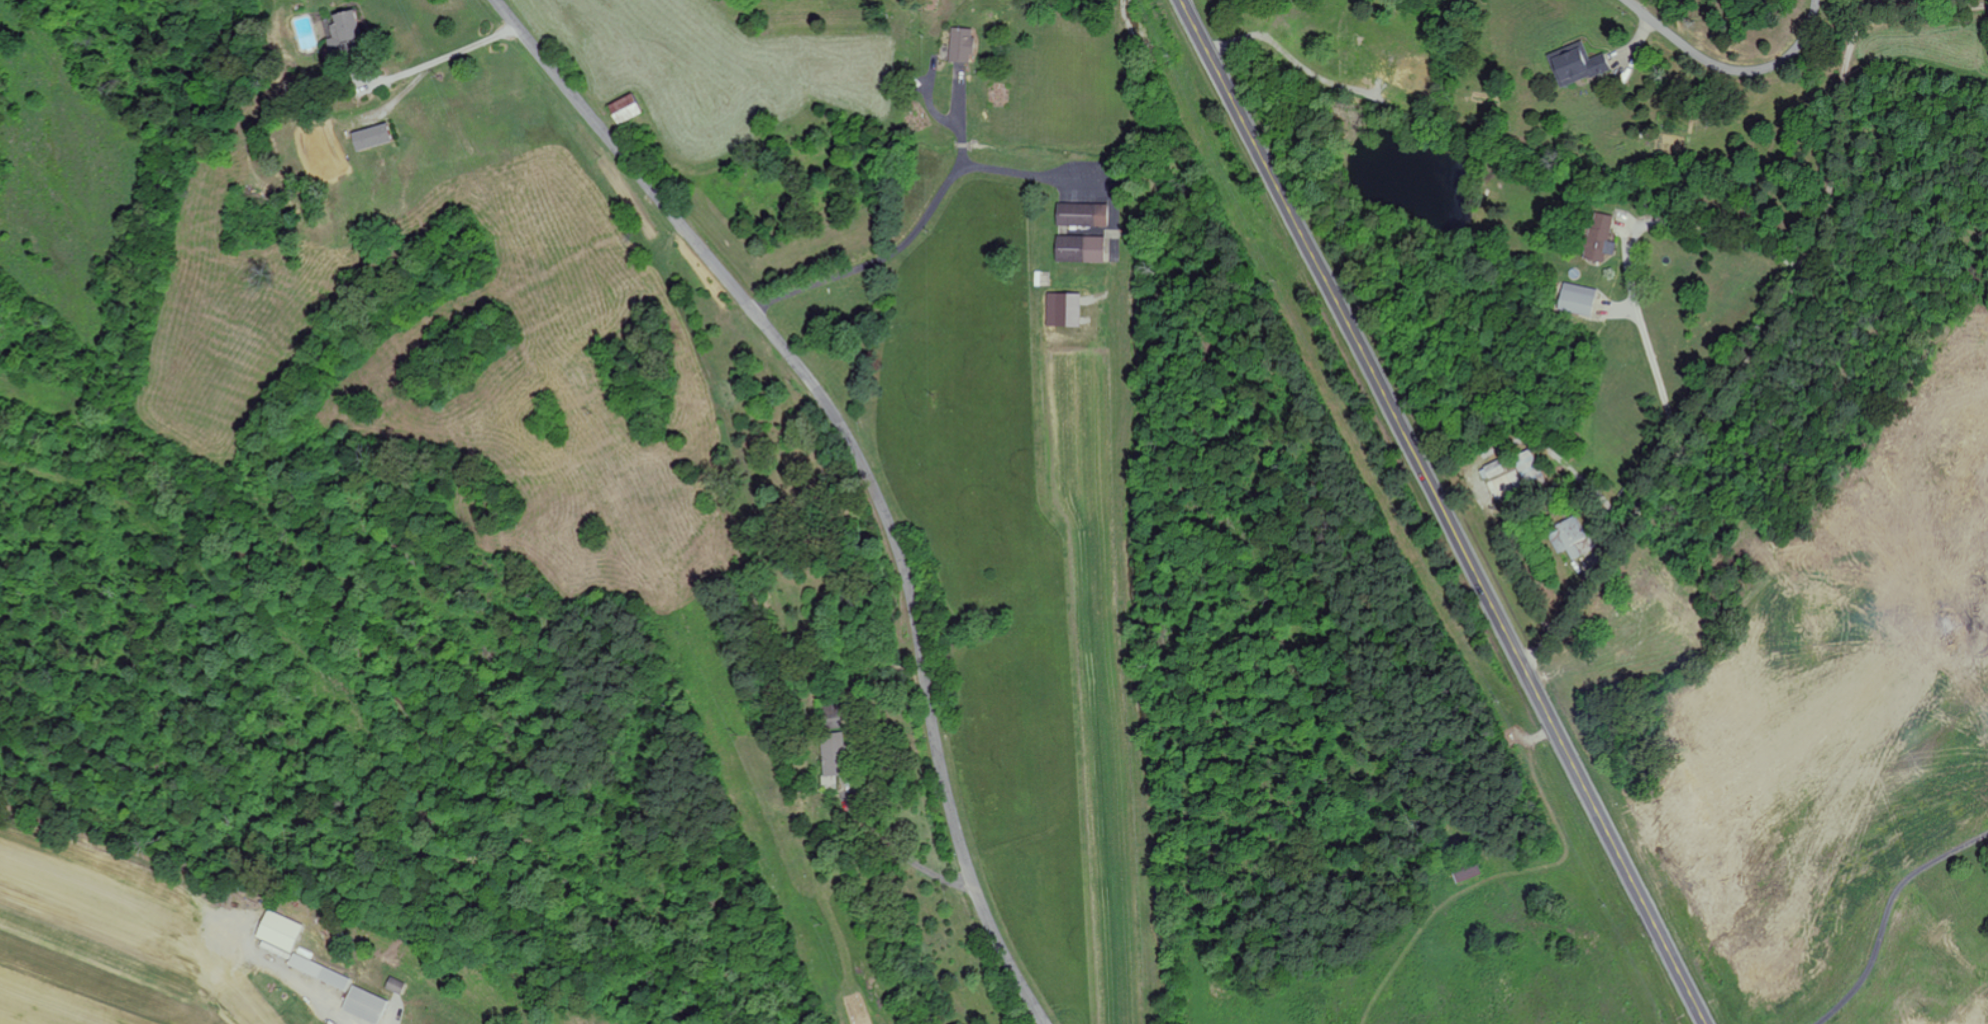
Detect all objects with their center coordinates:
building: (346, 34)
building: (960, 45)
road: (1726, 64)
building: (1576, 66)
building: (621, 109)
building: (367, 135)
building: (1081, 214)
building: (1598, 236)
building: (1078, 248)
road: (1761, 291)
building: (1575, 297)
building: (1062, 308)
road: (863, 465)
building: (1493, 467)
road: (1444, 511)
building: (1569, 537)
building: (828, 752)
building: (1464, 872)
road: (218, 929)
building: (275, 932)
building: (317, 971)
building: (363, 1004)

